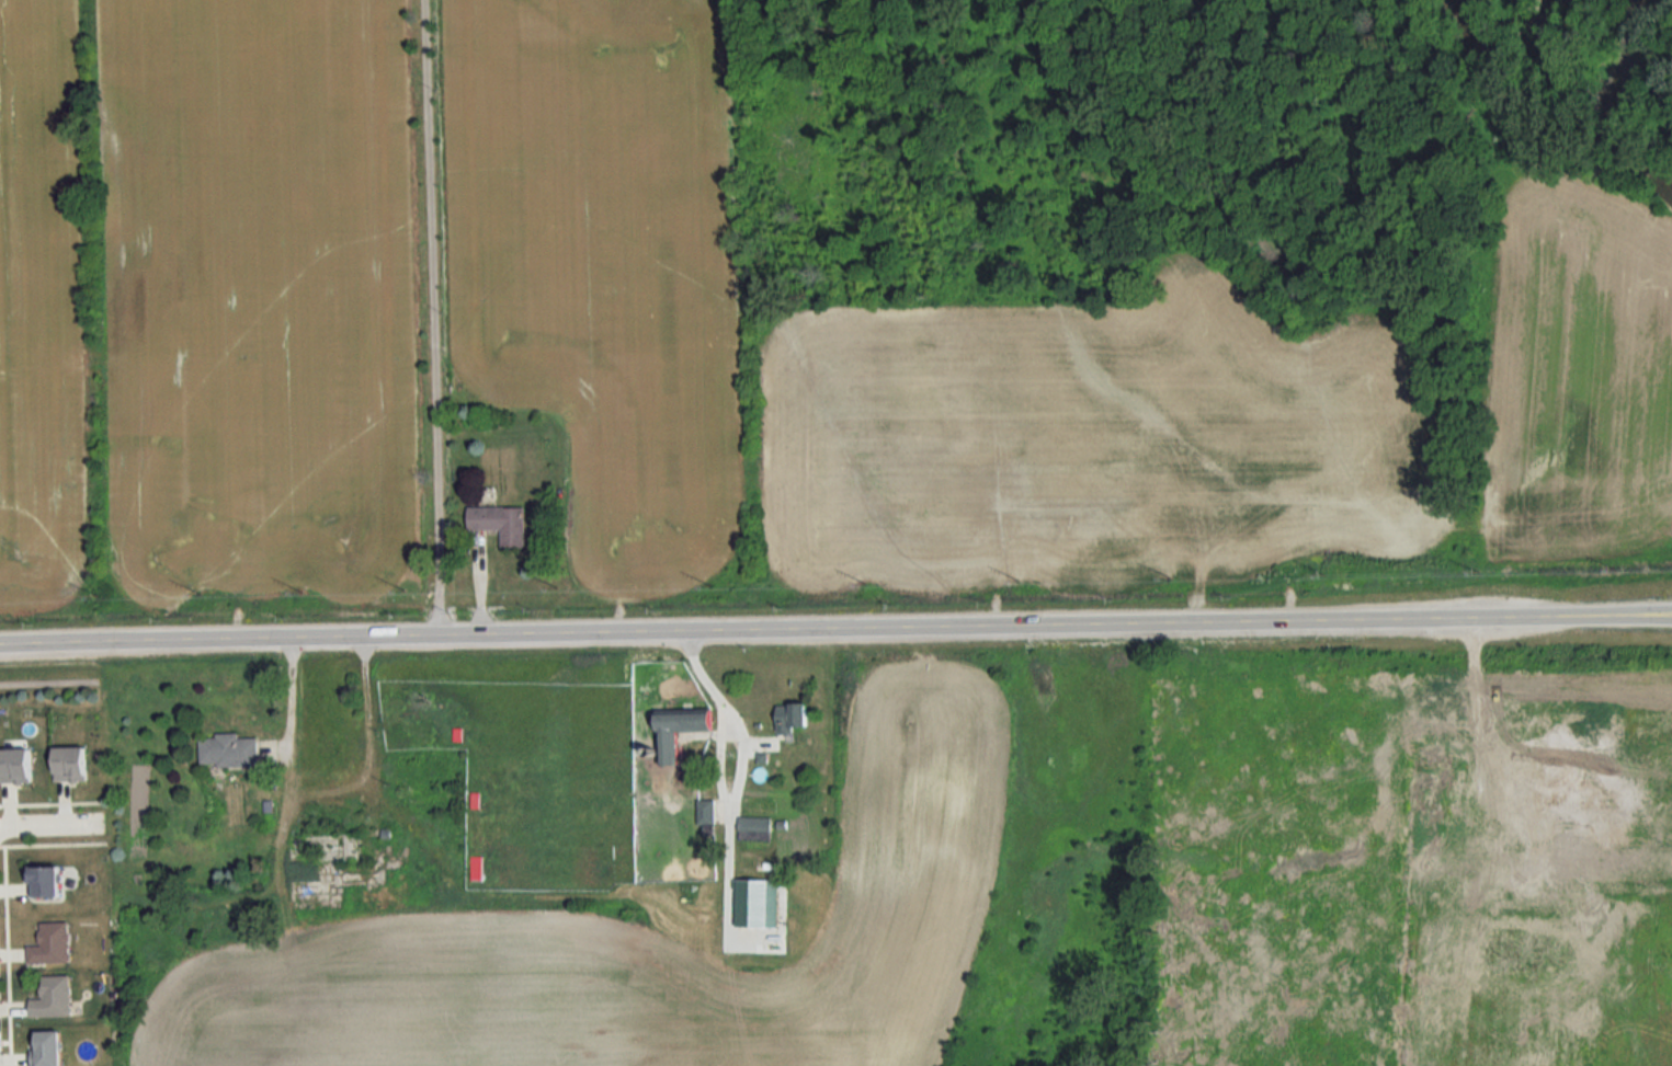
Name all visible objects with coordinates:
river: (1505, 72)
river: (1615, 110)
crop: (602, 264)
crop: (254, 295)
crop: (39, 310)
road: (426, 318)
building: (501, 525)
power tower: (1611, 566)
power tower: (1475, 570)
power tower: (1322, 573)
power tower: (1168, 576)
power tower: (1014, 578)
power tower: (862, 581)
power tower: (707, 583)
power tower: (553, 586)
power tower: (401, 587)
power tower: (299, 592)
power tower: (197, 595)
power tower: (95, 596)
road: (1053, 626)
road: (216, 644)
building: (793, 718)
building: (668, 747)
road: (718, 748)
building: (228, 752)
building: (475, 801)
building: (705, 813)
road: (50, 830)
building: (45, 881)
crop: (655, 943)
building: (53, 998)
building: (48, 1048)

